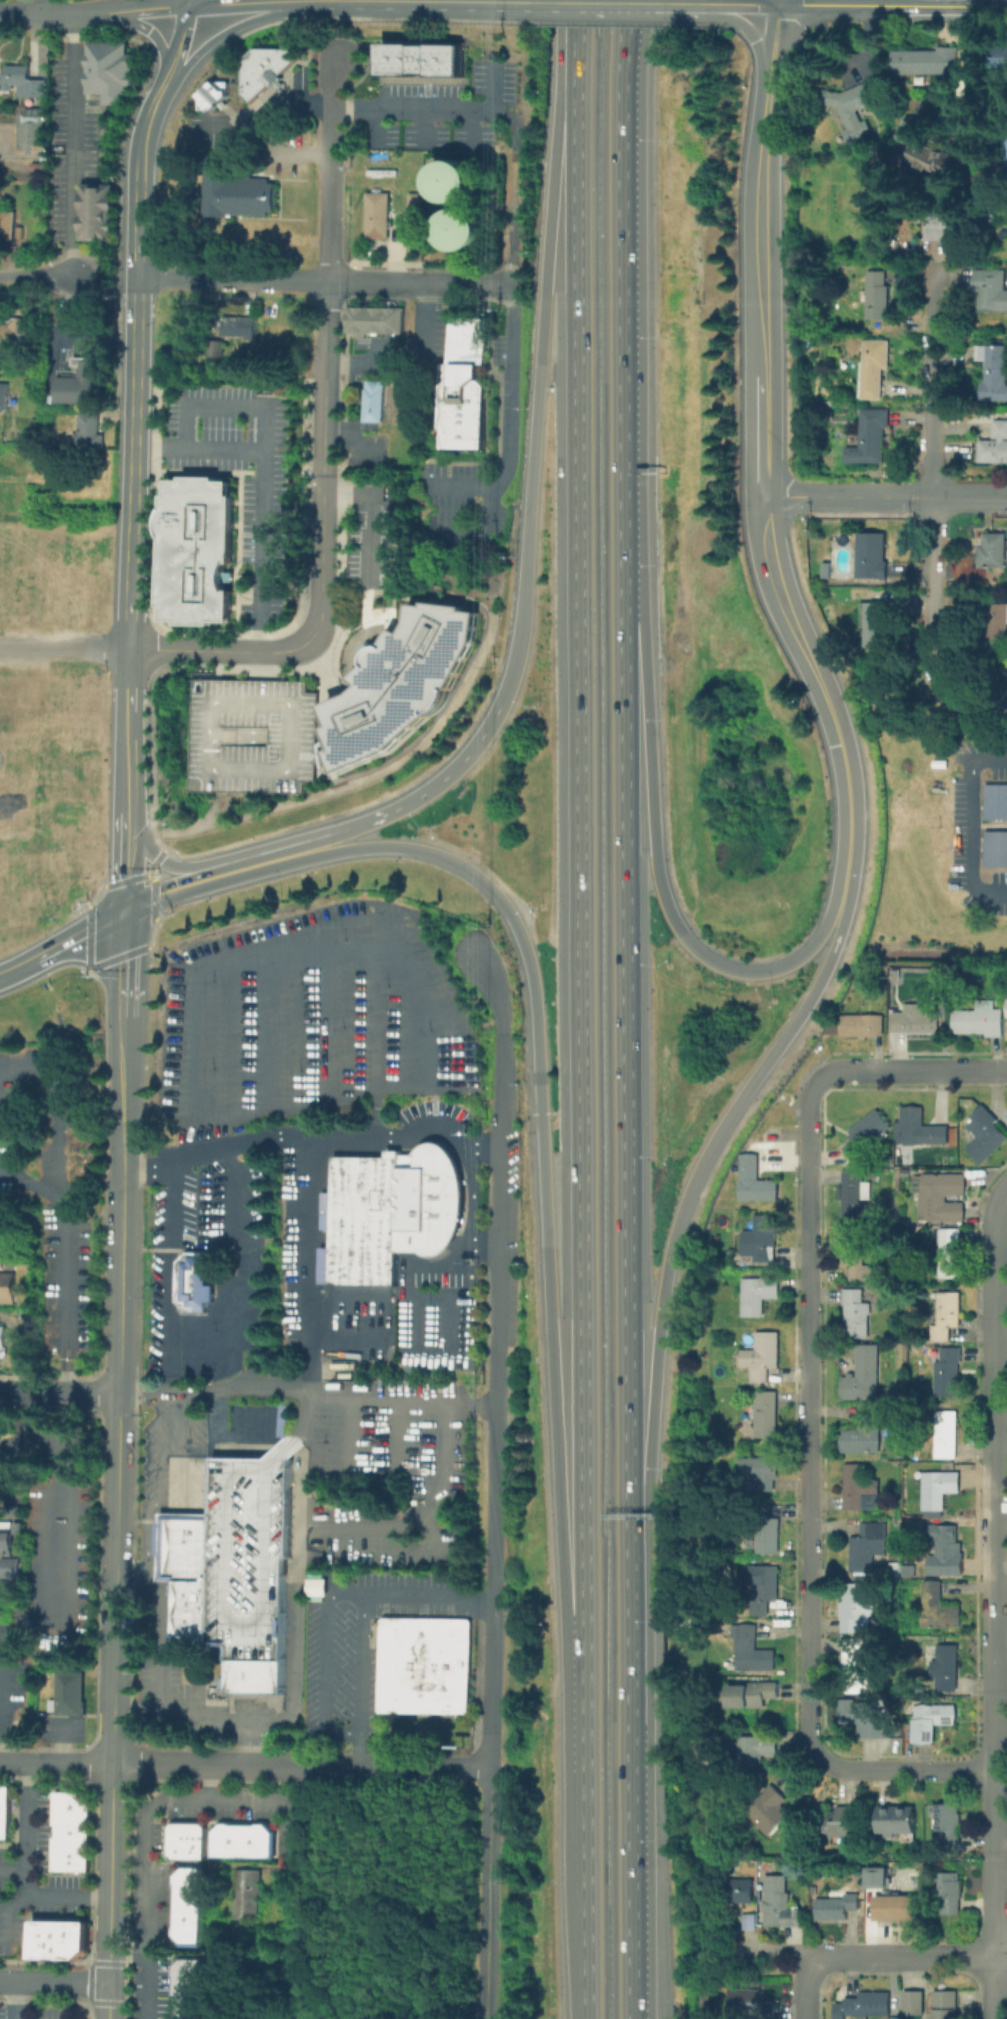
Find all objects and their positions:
road: (256, 1)
road: (280, 1)
road: (413, 1)
road: (553, 2)
road: (781, 2)
road: (189, 3)
road: (646, 3)
road: (223, 4)
road: (717, 4)
road: (752, 4)
road: (893, 6)
road: (46, 7)
road: (716, 8)
road: (152, 9)
road: (58, 15)
road: (752, 36)
road: (181, 44)
building: (999, 61)
building: (425, 62)
building: (928, 63)
building: (267, 71)
building: (112, 74)
road: (968, 77)
building: (24, 83)
building: (216, 96)
road: (285, 100)
road: (431, 107)
building: (853, 107)
road: (145, 128)
building: (33, 131)
road: (69, 144)
building: (1005, 147)
building: (929, 149)
building: (44, 157)
building: (1005, 158)
building: (39, 165)
road: (328, 167)
building: (455, 183)
water tower: (456, 183)
building: (240, 197)
building: (415, 204)
building: (99, 216)
building: (379, 218)
building: (8, 227)
building: (943, 227)
road: (139, 229)
building: (463, 232)
water tower: (464, 232)
road: (36, 278)
road: (232, 279)
road: (418, 281)
road: (619, 281)
building: (991, 293)
building: (878, 297)
road: (511, 306)
road: (423, 314)
building: (375, 320)
building: (7, 324)
building: (241, 327)
road: (326, 332)
road: (137, 334)
road: (97, 335)
building: (217, 353)
road: (539, 355)
building: (875, 368)
building: (995, 372)
building: (85, 384)
building: (466, 387)
building: (4, 399)
building: (376, 403)
road: (223, 405)
road: (325, 428)
building: (875, 435)
building: (91, 436)
building: (995, 447)
road: (762, 460)
road: (934, 477)
road: (262, 486)
road: (884, 498)
road: (376, 509)
road: (485, 513)
road: (133, 520)
building: (195, 550)
building: (994, 552)
building: (873, 556)
road: (322, 560)
building: (877, 626)
building: (995, 626)
road: (65, 648)
road: (220, 651)
road: (130, 681)
building: (401, 683)
building: (1003, 696)
road: (970, 733)
building: (254, 735)
parking lot: (254, 735)
road: (128, 761)
road: (450, 769)
building: (995, 800)
road: (971, 823)
road: (303, 840)
building: (995, 847)
road: (418, 849)
road: (654, 850)
road: (124, 859)
road: (161, 859)
road: (579, 864)
road: (169, 883)
traffic signals: (123, 910)
road: (79, 935)
road: (123, 949)
road: (20, 968)
road: (2, 976)
building: (1005, 1007)
building: (916, 1019)
building: (980, 1020)
building: (860, 1025)
road: (911, 1068)
road: (59, 1107)
road: (539, 1107)
traffic signals: (539, 1114)
building: (918, 1129)
road: (410, 1134)
building: (867, 1134)
building: (985, 1134)
road: (319, 1161)
building: (908, 1171)
road: (625, 1173)
building: (755, 1181)
building: (855, 1192)
road: (29, 1193)
building: (941, 1196)
road: (471, 1207)
building: (392, 1215)
building: (761, 1238)
building: (731, 1251)
building: (948, 1252)
building: (856, 1256)
building: (192, 1282)
building: (8, 1289)
building: (758, 1295)
building: (885, 1295)
road: (62, 1301)
building: (856, 1313)
building: (947, 1315)
road: (659, 1319)
building: (2, 1341)
road: (495, 1356)
building: (761, 1356)
building: (948, 1372)
building: (863, 1375)
road: (306, 1390)
road: (60, 1391)
road: (807, 1404)
building: (763, 1413)
road: (555, 1422)
road: (351, 1428)
road: (395, 1431)
building: (865, 1433)
building: (947, 1434)
road: (64, 1445)
building: (915, 1452)
building: (760, 1473)
road: (993, 1474)
road: (118, 1485)
building: (861, 1490)
building: (940, 1491)
road: (152, 1511)
road: (314, 1527)
building: (766, 1529)
building: (9, 1537)
building: (867, 1545)
building: (945, 1547)
building: (11, 1570)
building: (234, 1570)
building: (895, 1570)
building: (910, 1571)
building: (913, 1583)
building: (316, 1586)
building: (764, 1589)
road: (66, 1590)
building: (860, 1608)
building: (938, 1608)
road: (361, 1615)
building: (750, 1651)
road: (323, 1664)
building: (858, 1664)
building: (427, 1668)
building: (946, 1668)
building: (69, 1693)
building: (752, 1695)
building: (864, 1718)
building: (932, 1720)
parking lot: (60, 1729)
road: (59, 1741)
building: (756, 1752)
road: (153, 1764)
road: (397, 1766)
road: (896, 1768)
road: (212, 1780)
building: (769, 1810)
road: (304, 1813)
building: (5, 1815)
road: (148, 1820)
building: (897, 1822)
building: (843, 1824)
building: (949, 1824)
road: (24, 1828)
building: (73, 1835)
building: (241, 1840)
building: (185, 1841)
road: (585, 1874)
building: (875, 1876)
building: (814, 1890)
road: (486, 1892)
building: (742, 1892)
building: (950, 1892)
building: (869, 1893)
road: (992, 1894)
road: (55, 1895)
building: (249, 1897)
road: (630, 1901)
road: (14, 1903)
building: (780, 1905)
building: (188, 1906)
building: (896, 1906)
building: (837, 1907)
road: (2, 1912)
building: (750, 1923)
road: (4, 1927)
road: (300, 1941)
building: (62, 1942)
road: (779, 1947)
road: (999, 1954)
road: (902, 1955)
road: (54, 1981)
road: (803, 1986)
road: (148, 1988)
building: (188, 1990)
road: (18, 2000)
road: (110, 2000)
building: (915, 2002)
building: (751, 2003)
building: (869, 2004)
building: (945, 2006)

